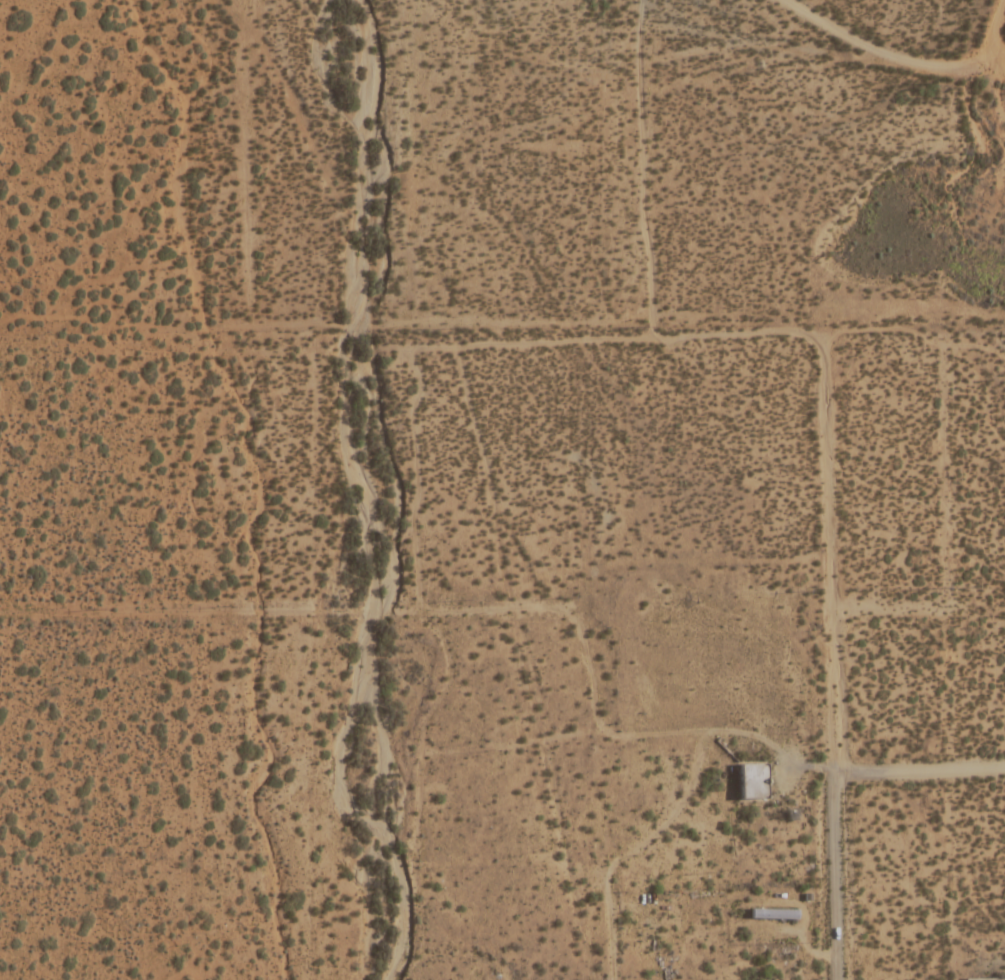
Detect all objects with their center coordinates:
road: (992, 34)
road: (890, 53)
road: (787, 331)
road: (540, 607)
road: (851, 771)
building: (753, 781)
road: (830, 876)
building: (774, 914)

